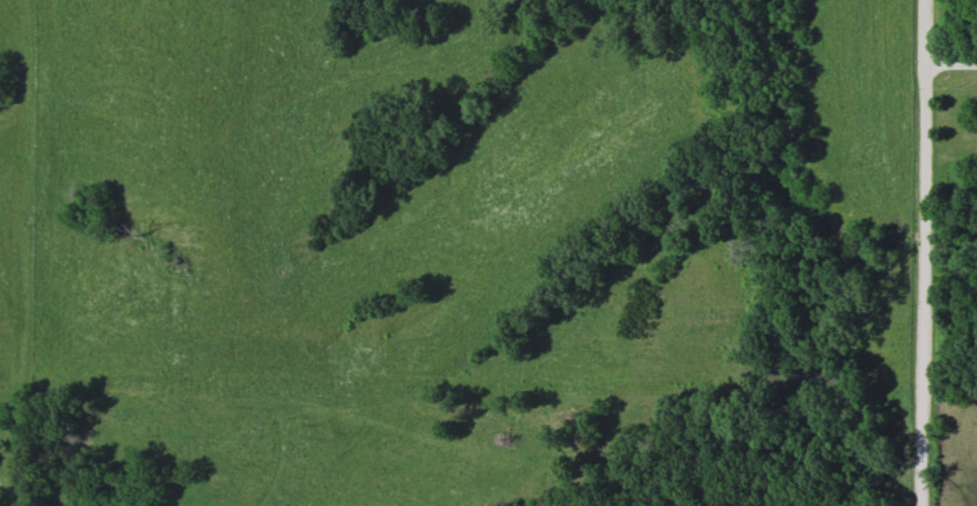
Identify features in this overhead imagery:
road: (952, 64)
road: (927, 253)

